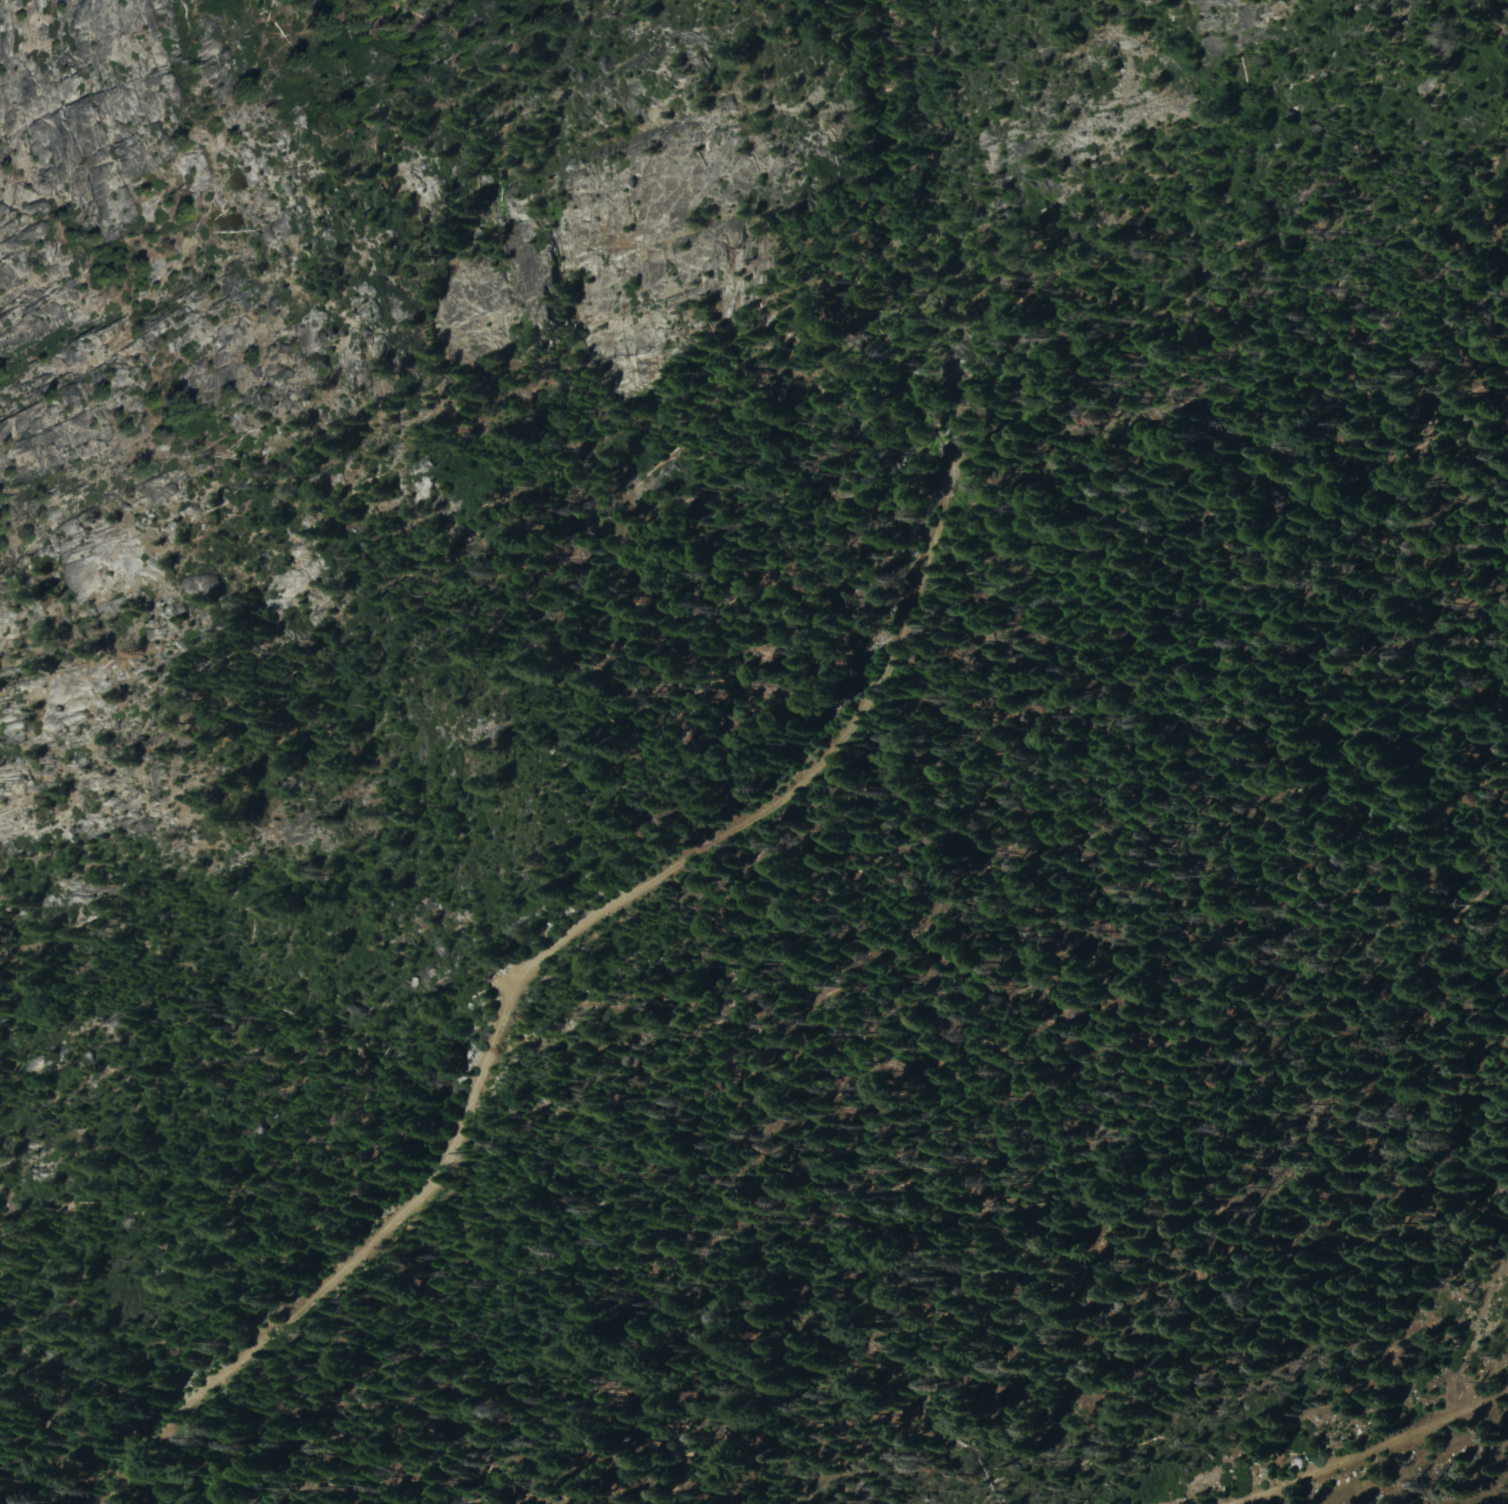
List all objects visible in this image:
road: (1378, 1467)

